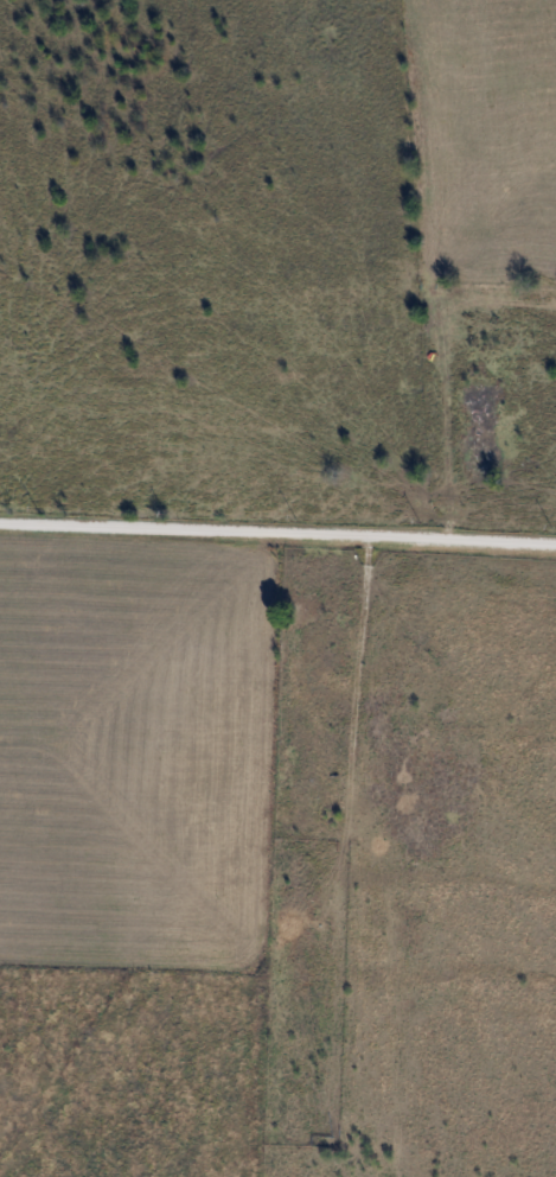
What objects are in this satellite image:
road: (277, 532)

